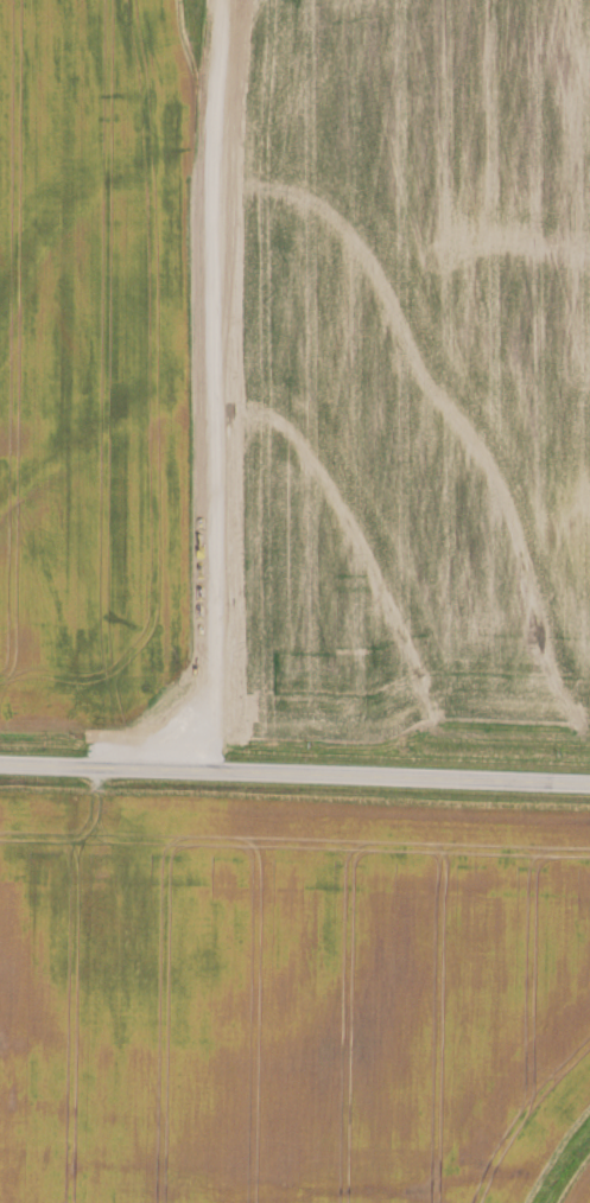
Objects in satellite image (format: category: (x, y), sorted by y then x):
road: (294, 772)

